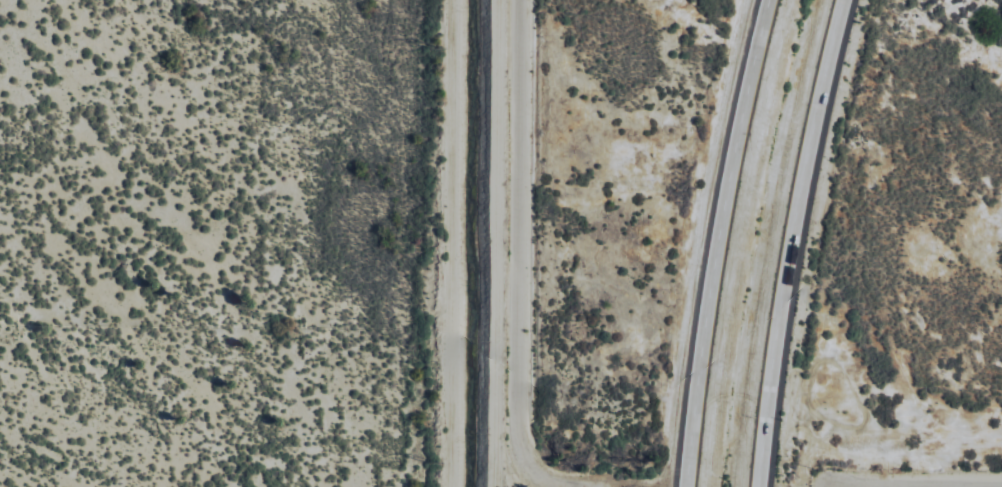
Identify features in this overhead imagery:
power tower: (437, 47)
road: (715, 241)
road: (791, 241)
road: (513, 249)
power tower: (434, 455)
road: (909, 486)

